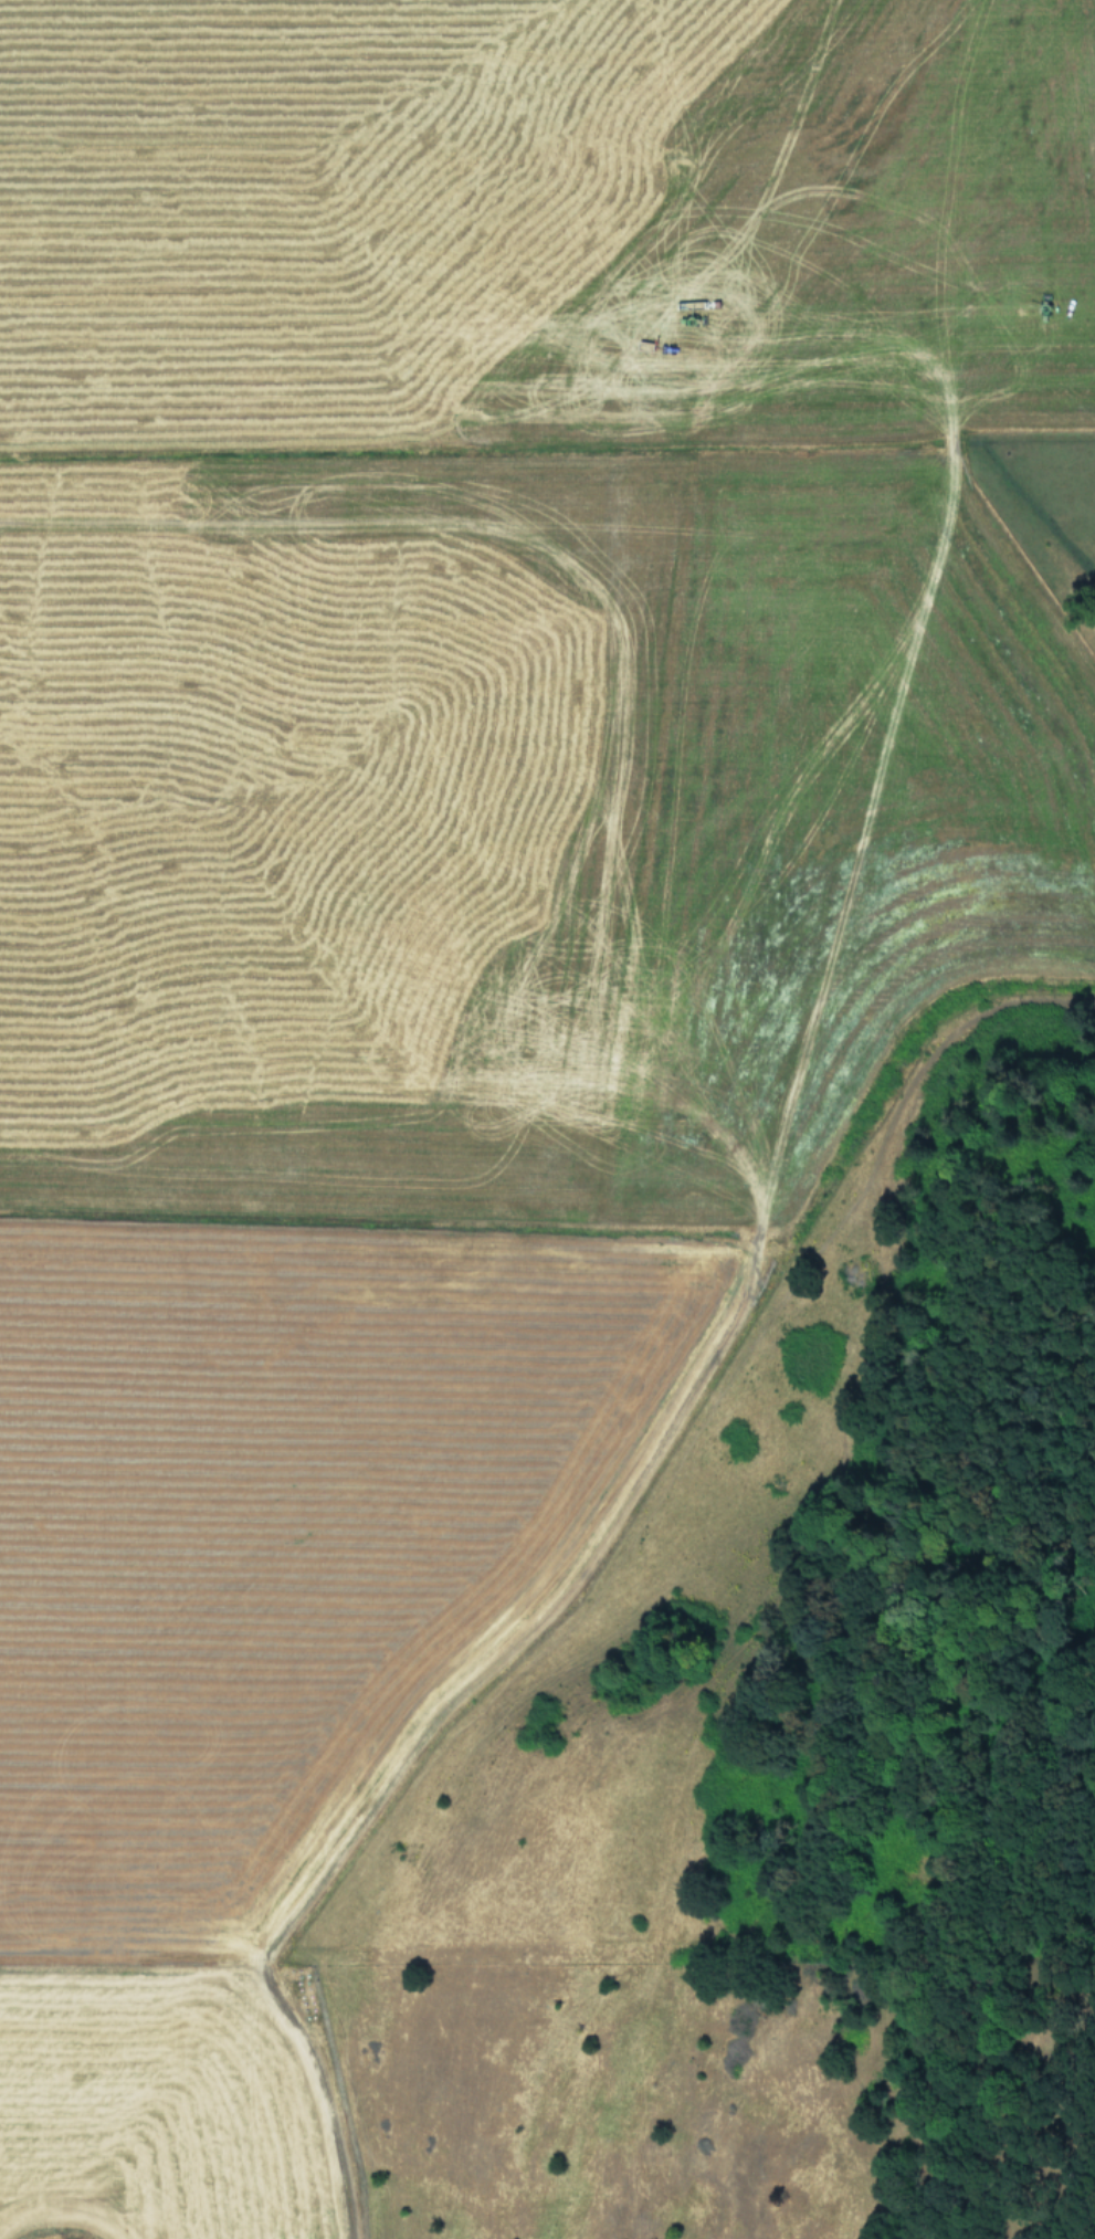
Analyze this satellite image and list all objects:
crop: (475, 1016)

